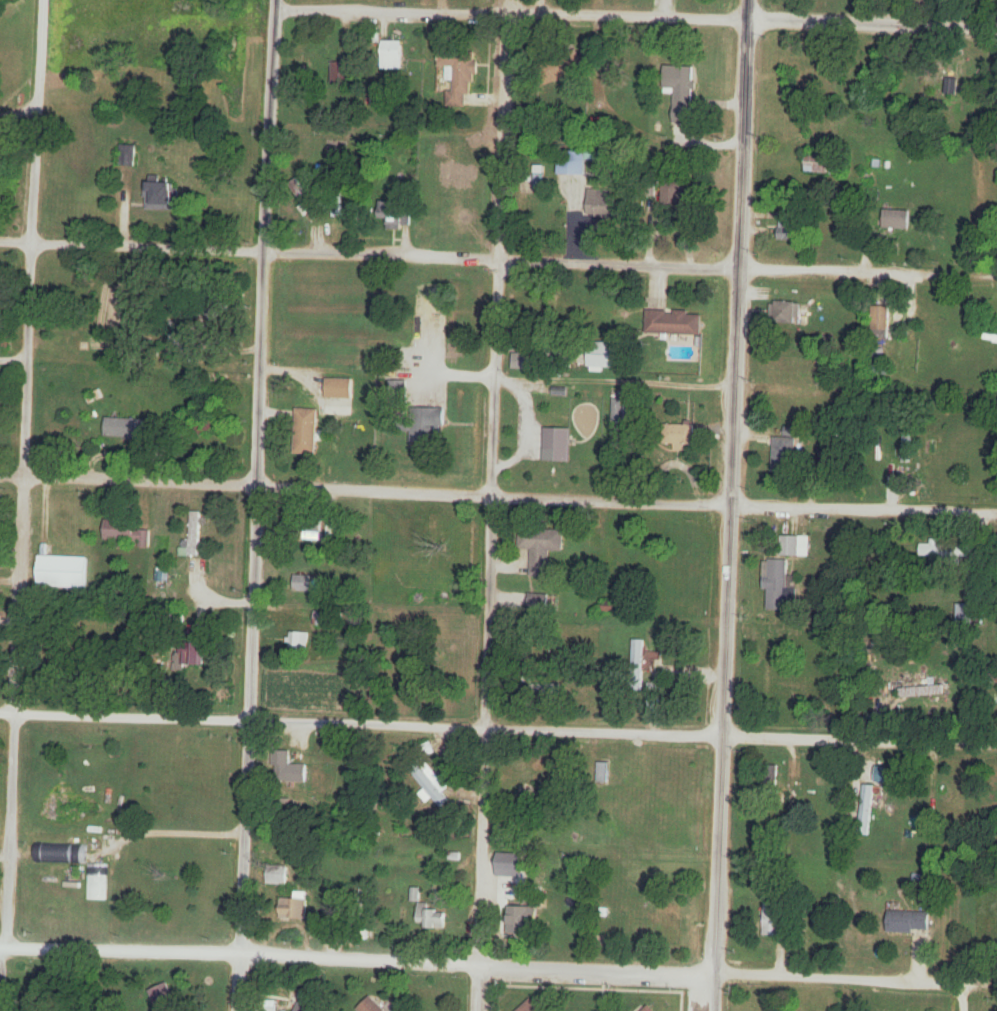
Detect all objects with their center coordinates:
road: (636, 13)
building: (390, 55)
building: (564, 66)
building: (339, 73)
building: (460, 74)
building: (679, 85)
building: (127, 155)
building: (575, 160)
building: (824, 164)
building: (161, 194)
building: (673, 197)
building: (602, 202)
building: (387, 213)
building: (451, 215)
building: (897, 220)
building: (787, 226)
road: (17, 240)
road: (500, 247)
road: (741, 251)
road: (387, 255)
road: (869, 271)
building: (785, 313)
building: (673, 322)
building: (880, 322)
building: (176, 333)
building: (993, 336)
building: (606, 355)
road: (263, 360)
building: (789, 369)
building: (880, 370)
road: (499, 378)
building: (339, 389)
building: (397, 392)
building: (619, 410)
building: (205, 426)
building: (429, 427)
building: (129, 429)
building: (306, 430)
building: (681, 434)
building: (557, 445)
building: (906, 445)
building: (784, 455)
road: (26, 474)
road: (498, 495)
building: (65, 526)
building: (128, 533)
building: (192, 538)
building: (618, 545)
building: (793, 547)
building: (541, 548)
building: (946, 551)
building: (63, 572)
building: (302, 584)
building: (776, 586)
building: (538, 603)
building: (966, 614)
building: (323, 620)
building: (298, 642)
building: (638, 653)
building: (188, 658)
building: (921, 691)
road: (125, 716)
road: (624, 732)
road: (481, 752)
road: (719, 757)
building: (287, 767)
building: (885, 775)
building: (768, 783)
building: (428, 786)
building: (866, 808)
road: (170, 834)
building: (60, 853)
road: (243, 865)
building: (276, 876)
building: (96, 883)
building: (365, 905)
building: (294, 909)
building: (775, 917)
building: (432, 918)
building: (523, 921)
building: (908, 922)
road: (493, 967)
building: (310, 1004)
building: (270, 1006)
building: (370, 1006)
building: (529, 1007)
building: (4, 1008)
building: (172, 1008)
building: (648, 1009)

